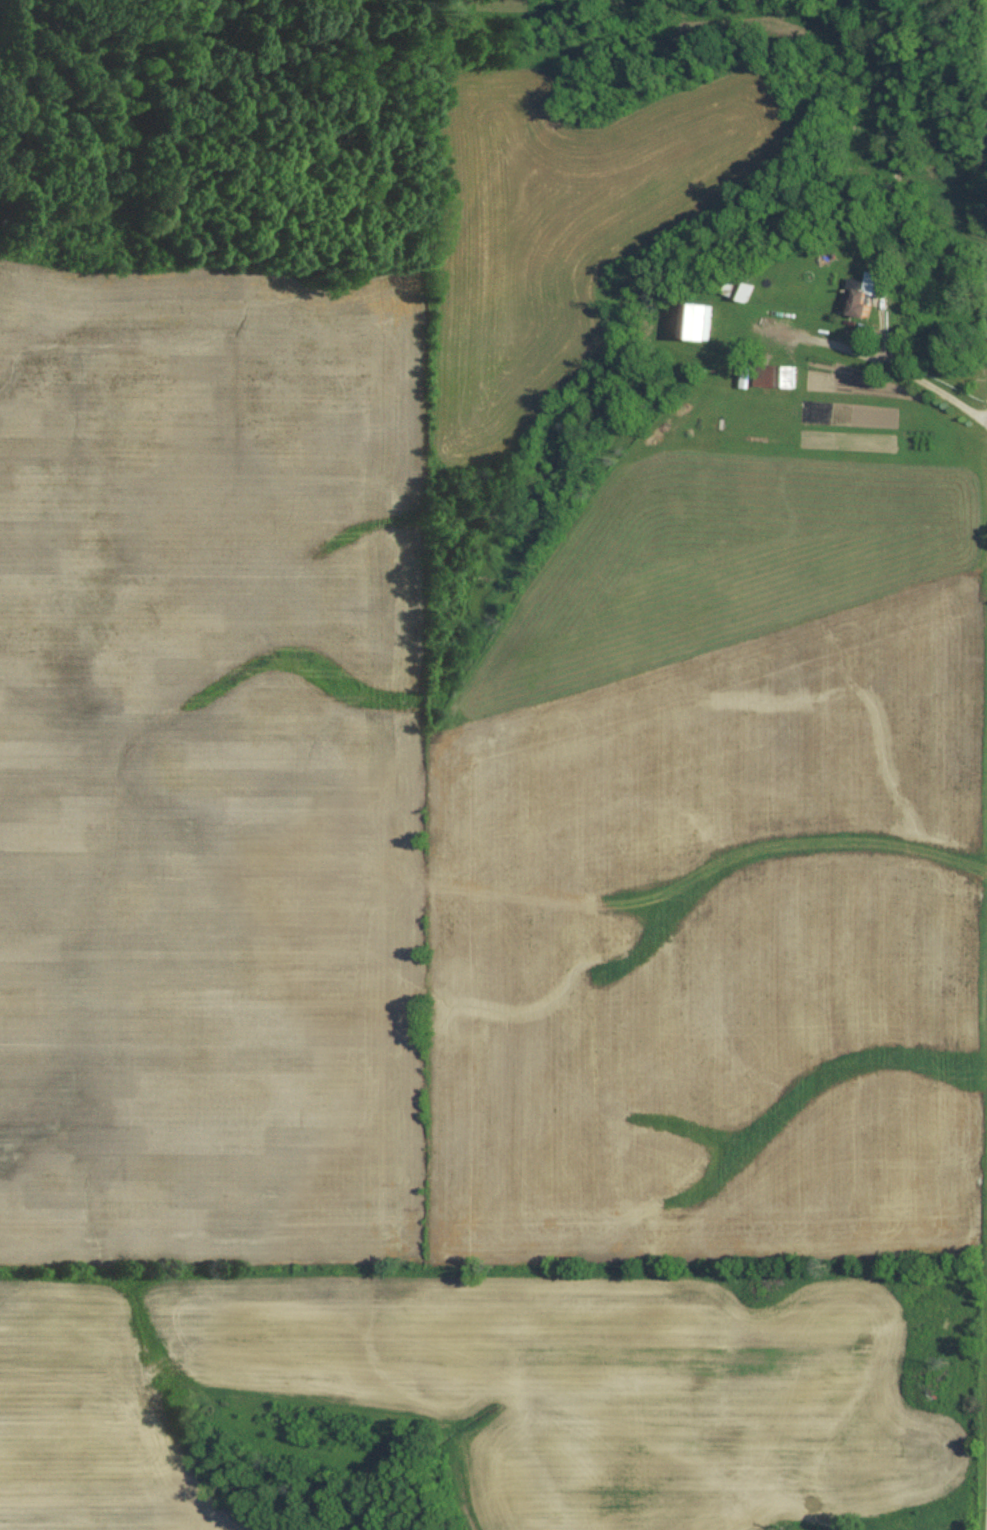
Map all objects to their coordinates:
building: (870, 295)
building: (699, 324)
road: (882, 354)
building: (775, 378)

